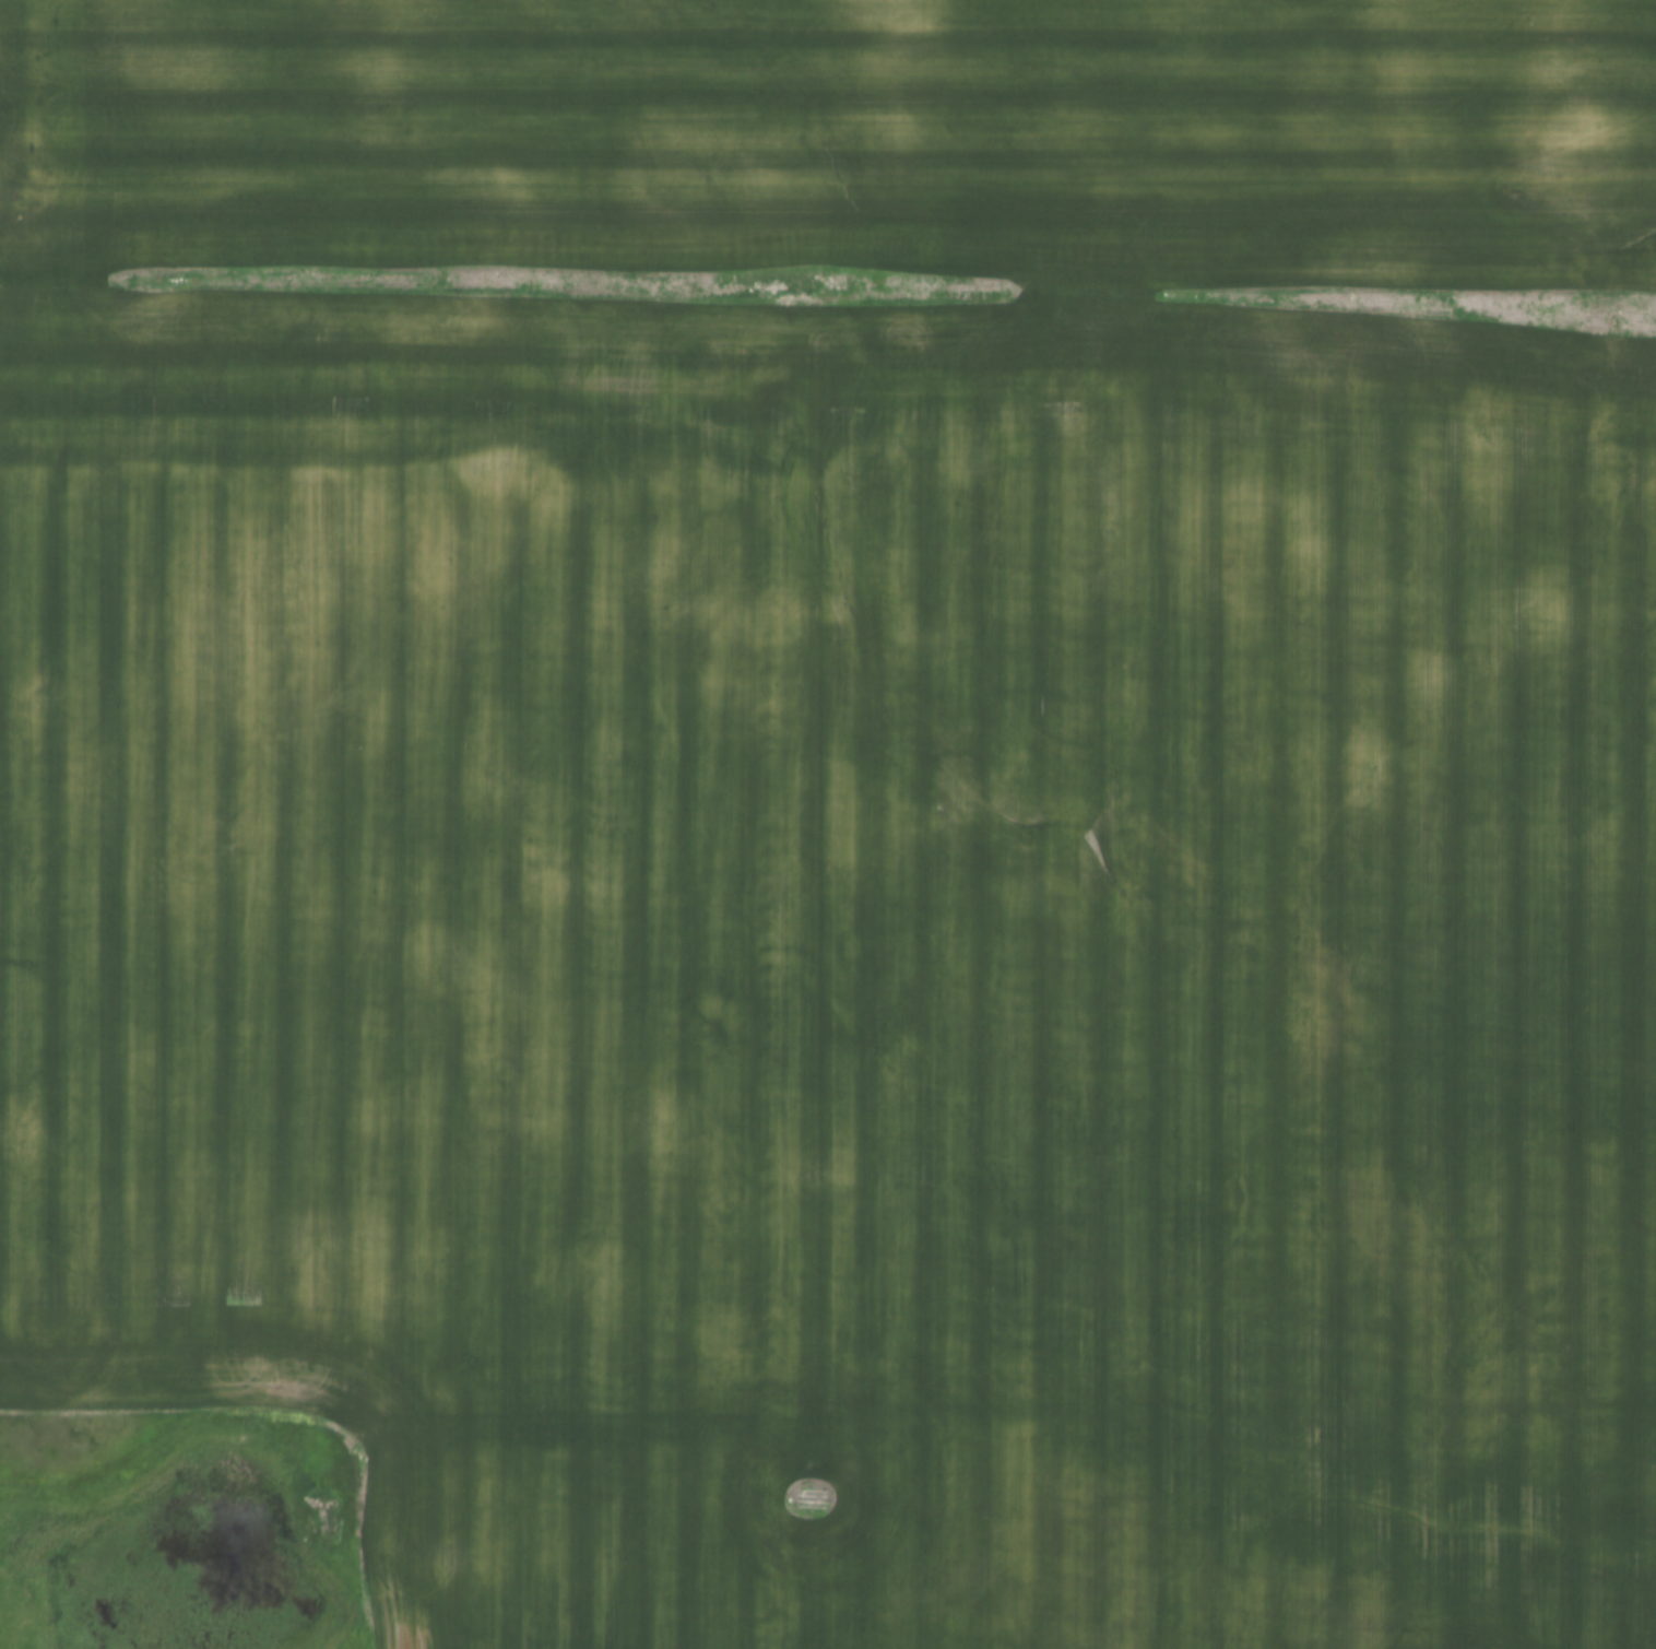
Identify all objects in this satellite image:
road: (381, 1429)

